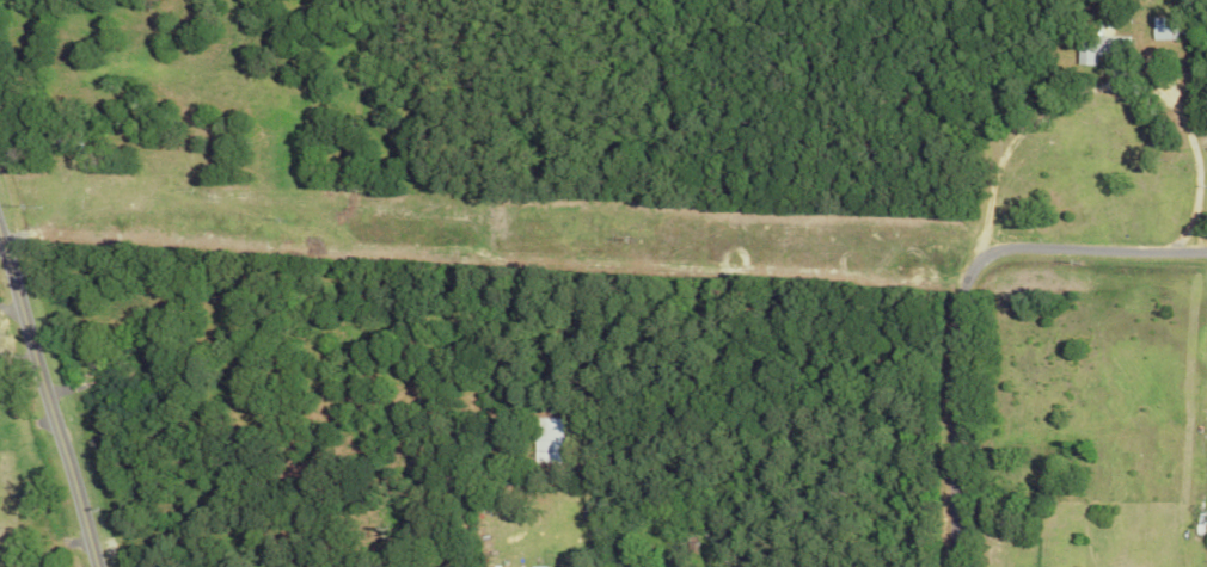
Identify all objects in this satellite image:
building: (1162, 27)
road: (958, 292)
road: (54, 375)

